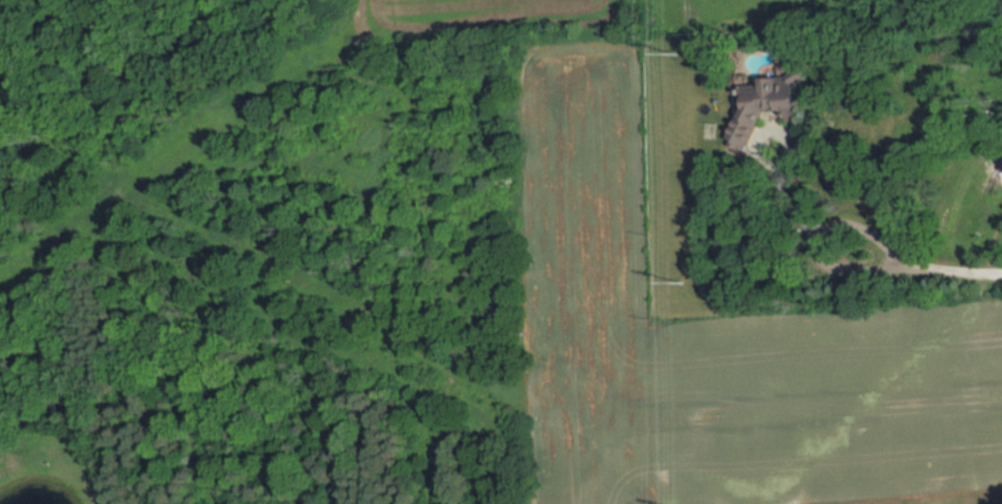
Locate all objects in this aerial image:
building: (771, 102)
road: (785, 196)
road: (817, 239)
road: (959, 270)

